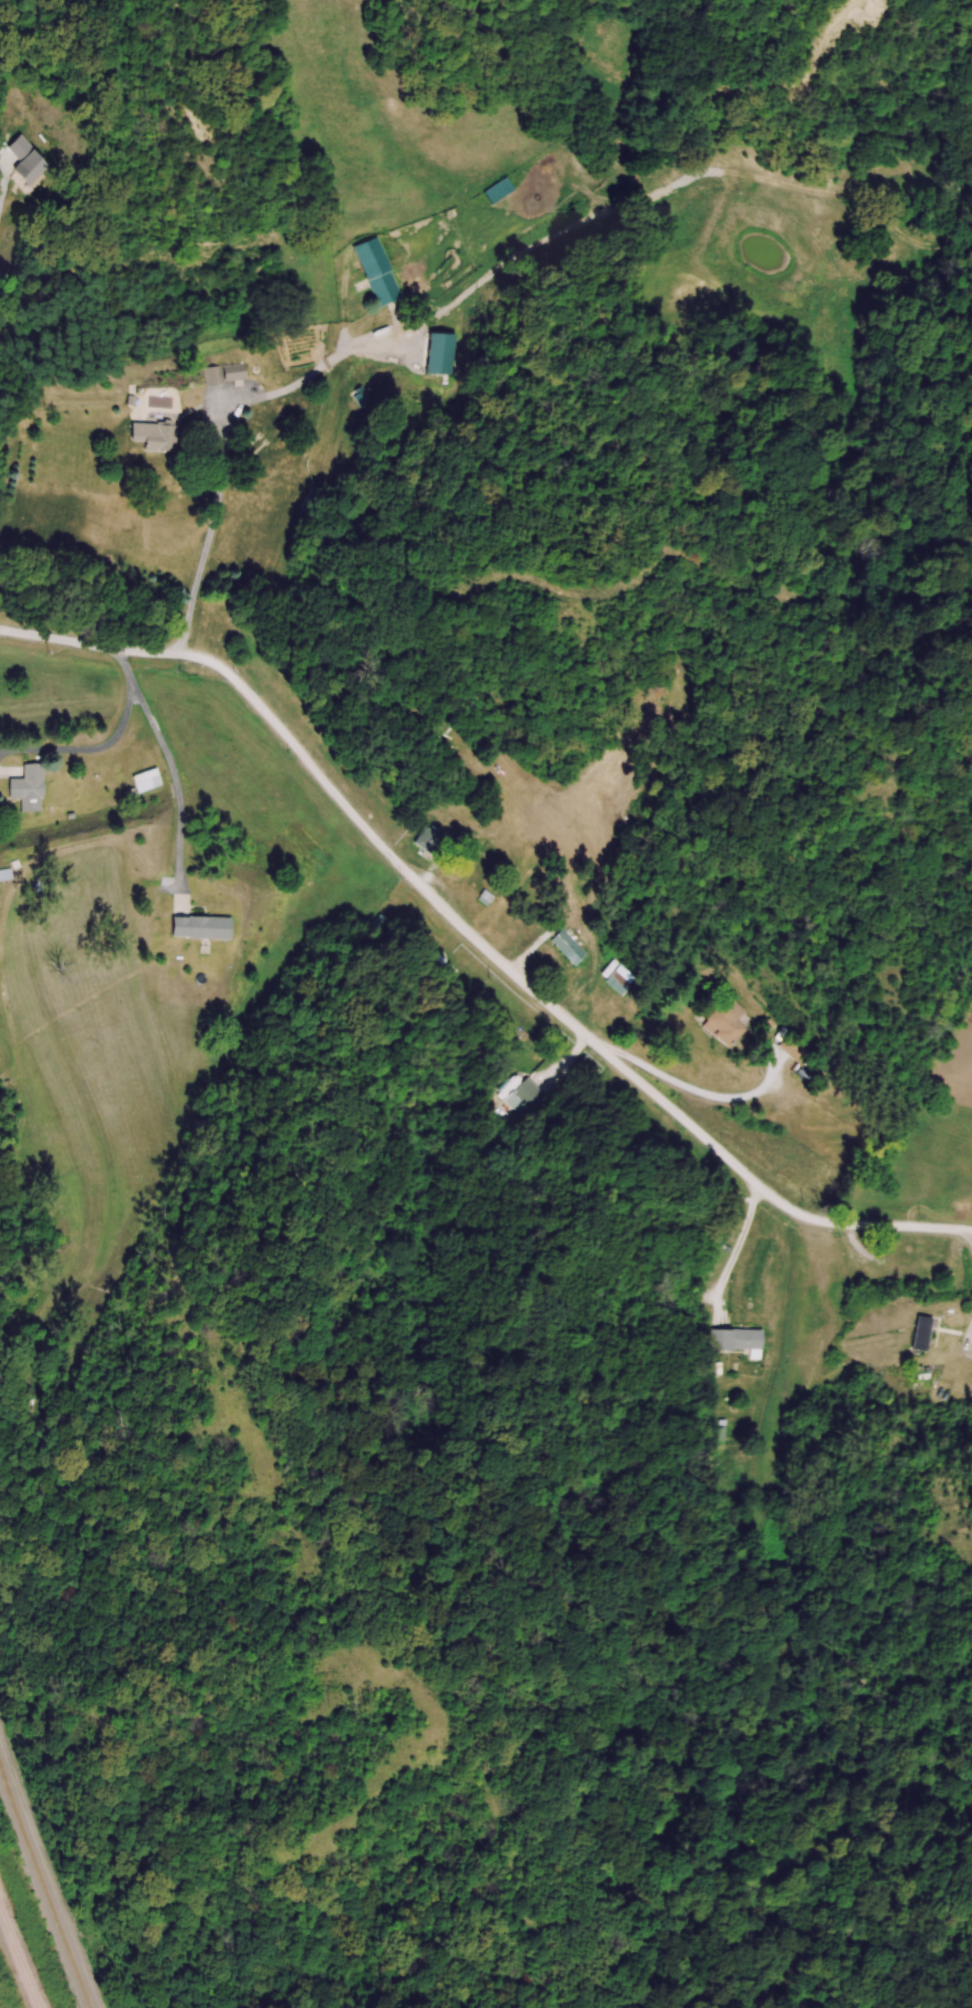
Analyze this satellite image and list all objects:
road: (1, 198)
road: (225, 424)
road: (104, 742)
road: (175, 780)
road: (475, 940)
road: (695, 1090)
road: (737, 1245)
railway: (44, 1885)
railway: (19, 1960)

